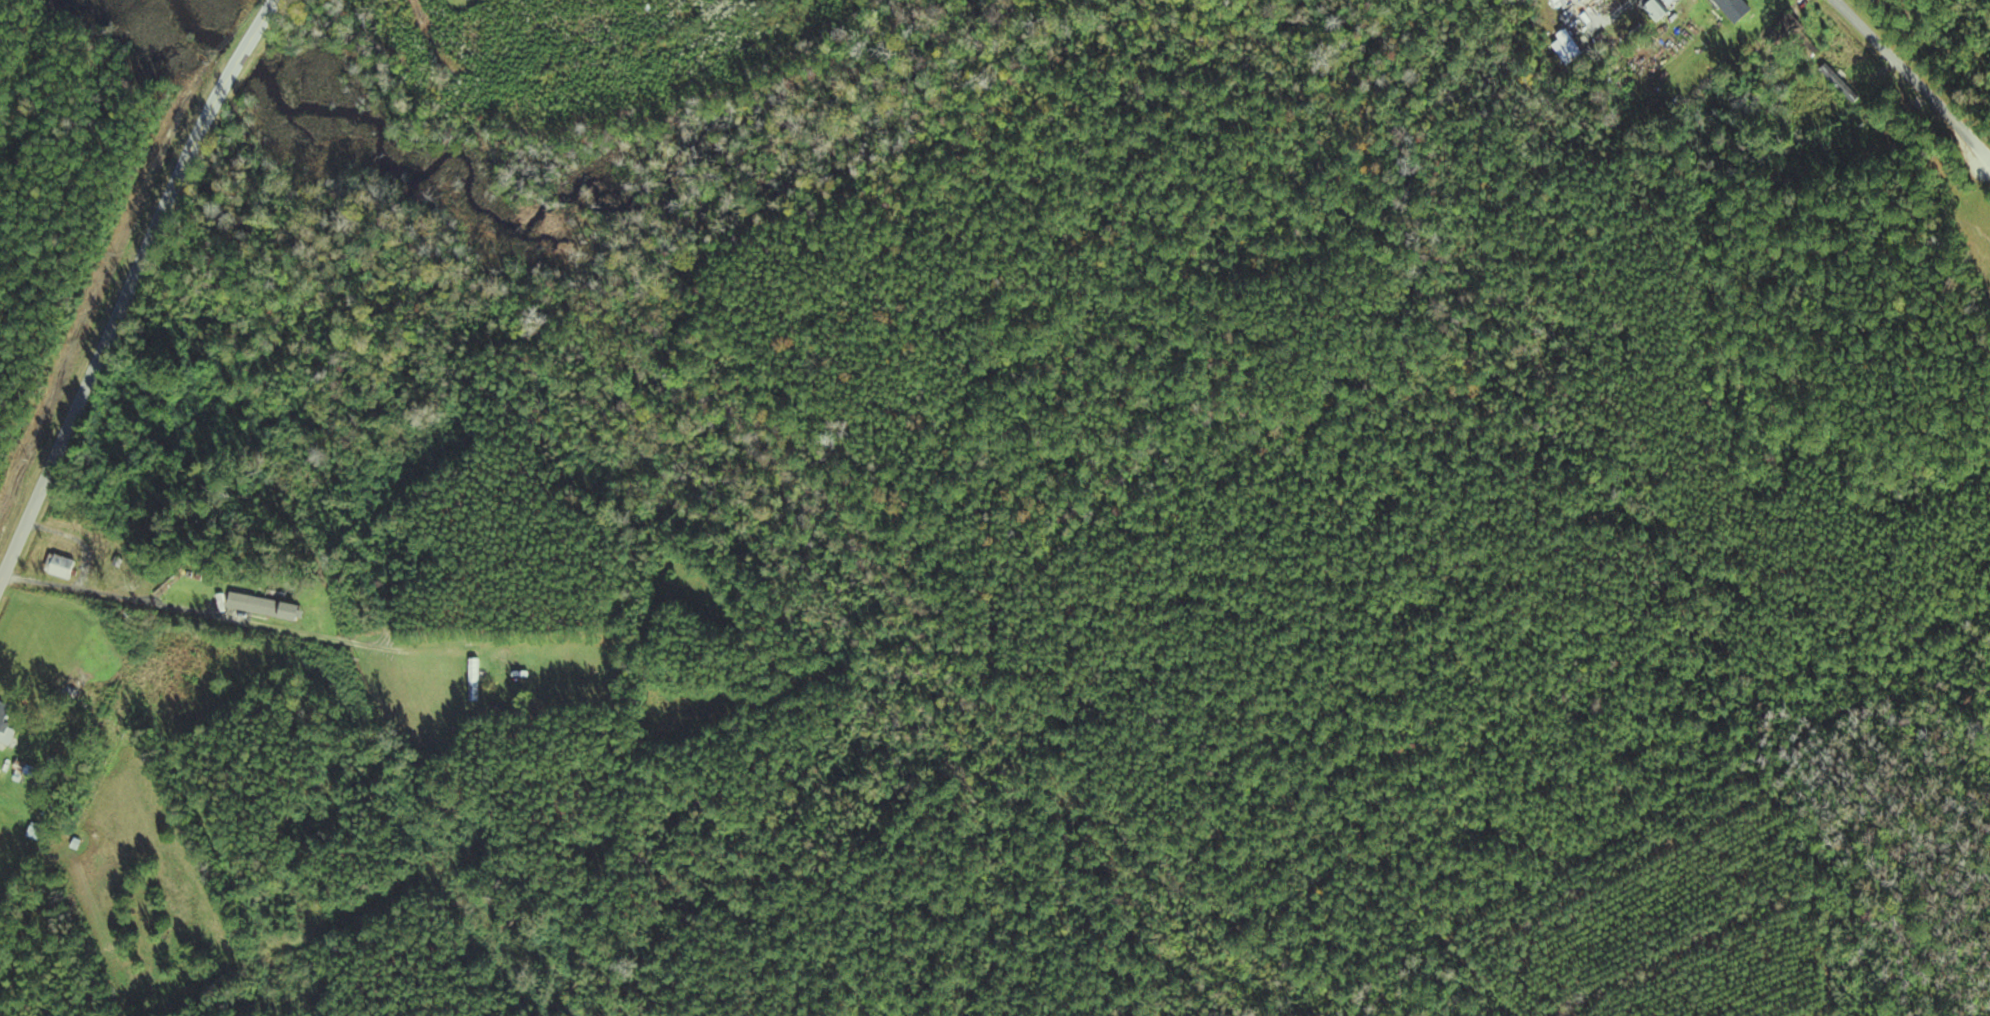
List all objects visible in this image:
building: (1739, 9)
building: (1660, 10)
building: (1790, 32)
building: (1572, 46)
road: (1915, 78)
building: (1843, 84)
road: (131, 288)
building: (64, 566)
building: (269, 606)
road: (207, 613)
building: (478, 680)
building: (7, 718)
building: (0, 770)
building: (40, 831)

